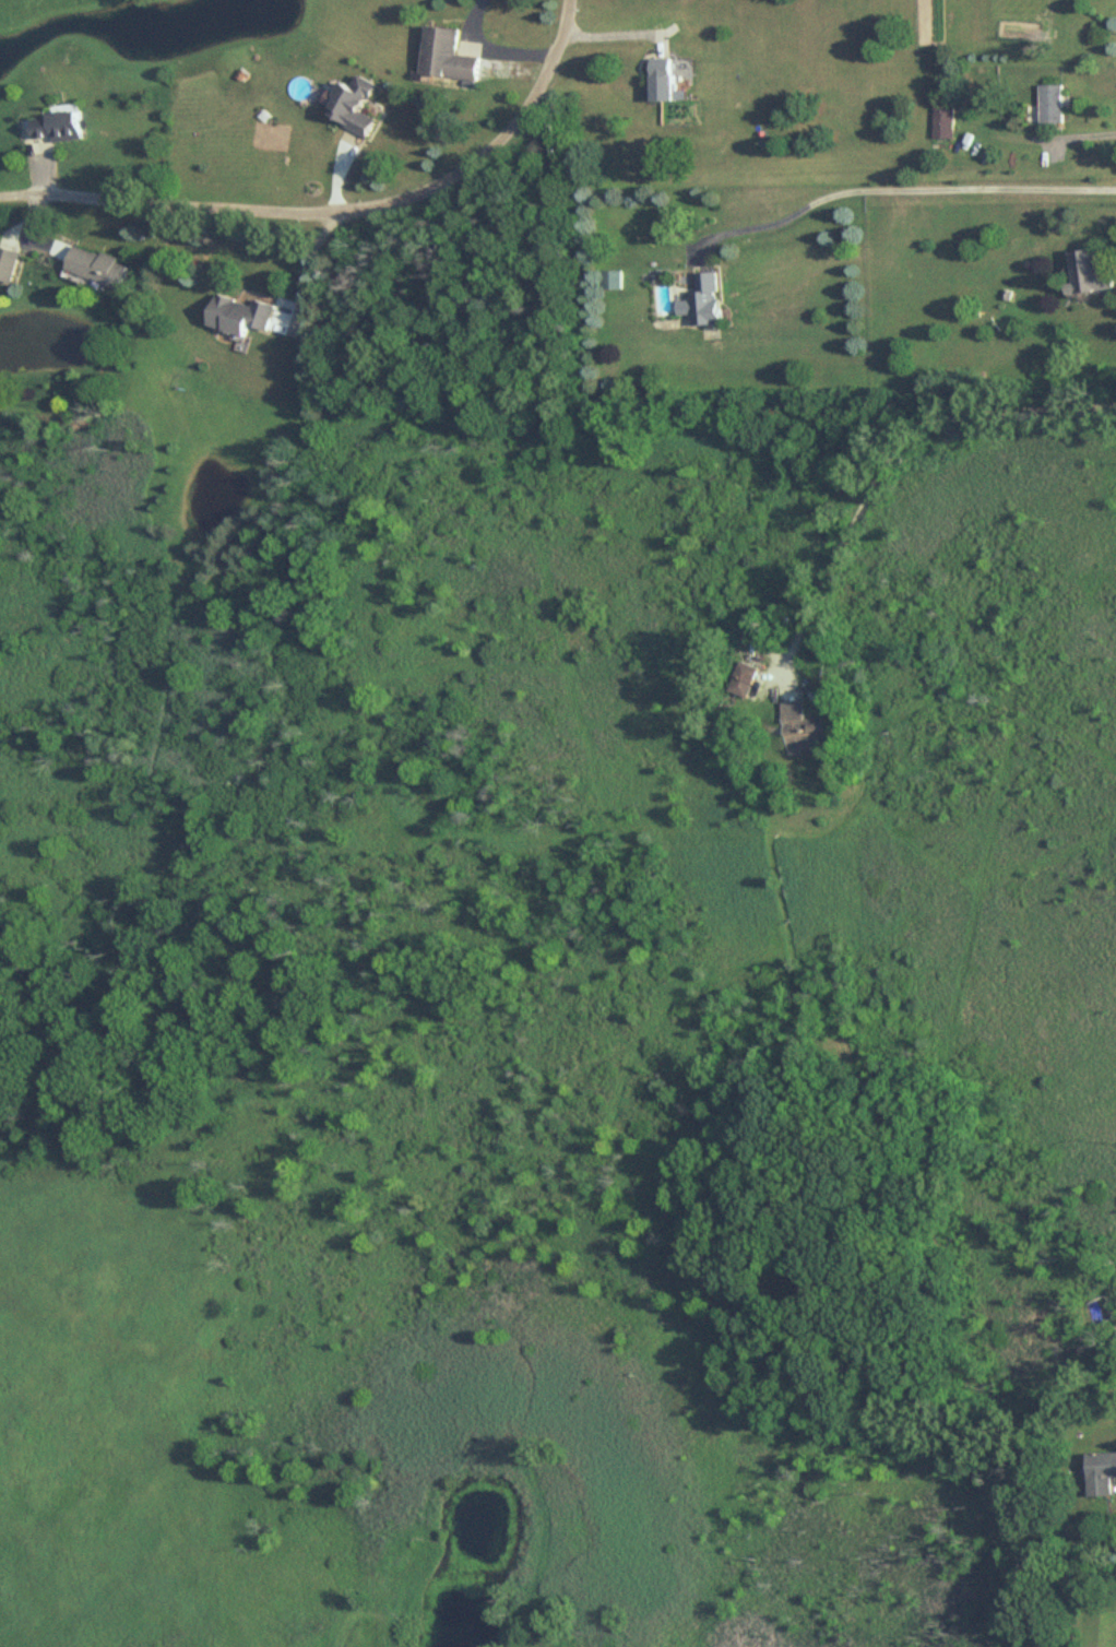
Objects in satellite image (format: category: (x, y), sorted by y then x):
road: (613, 35)
road: (490, 49)
building: (450, 56)
building: (665, 82)
building: (1054, 104)
building: (358, 106)
building: (945, 122)
building: (61, 127)
road: (1079, 134)
road: (901, 191)
road: (335, 210)
building: (8, 265)
building: (100, 268)
building: (1090, 274)
building: (615, 281)
building: (708, 301)
building: (244, 316)
road: (885, 461)
building: (745, 679)
building: (807, 731)
building: (1102, 1474)

